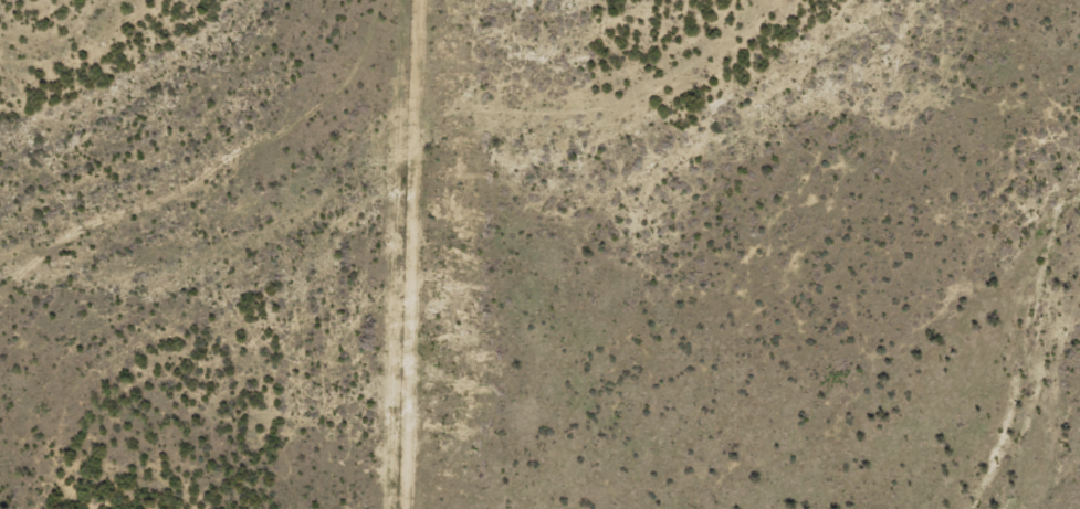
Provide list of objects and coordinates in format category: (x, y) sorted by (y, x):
road: (251, 242)

